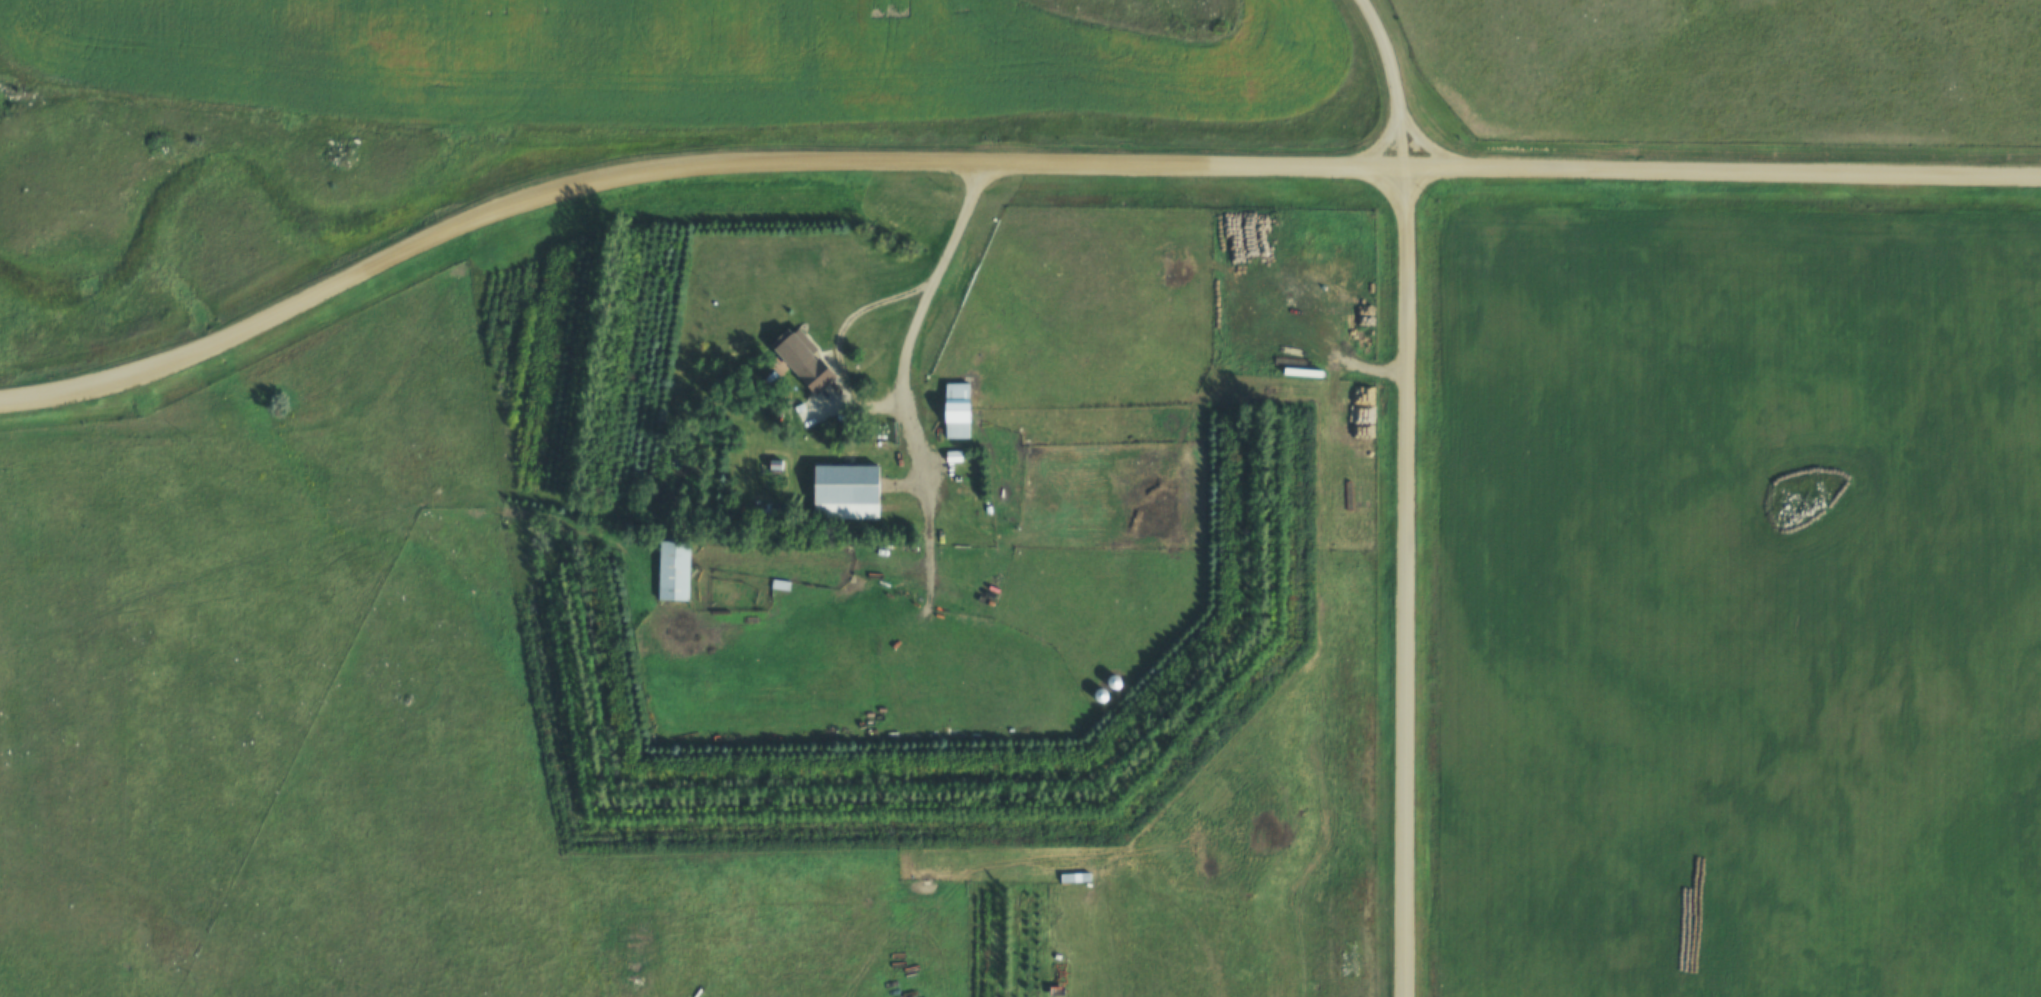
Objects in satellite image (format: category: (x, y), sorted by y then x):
road: (1393, 81)
road: (997, 168)
road: (921, 334)
building: (803, 358)
building: (956, 409)
building: (806, 412)
building: (774, 463)
building: (846, 490)
building: (770, 510)
building: (673, 568)
road: (1409, 583)

